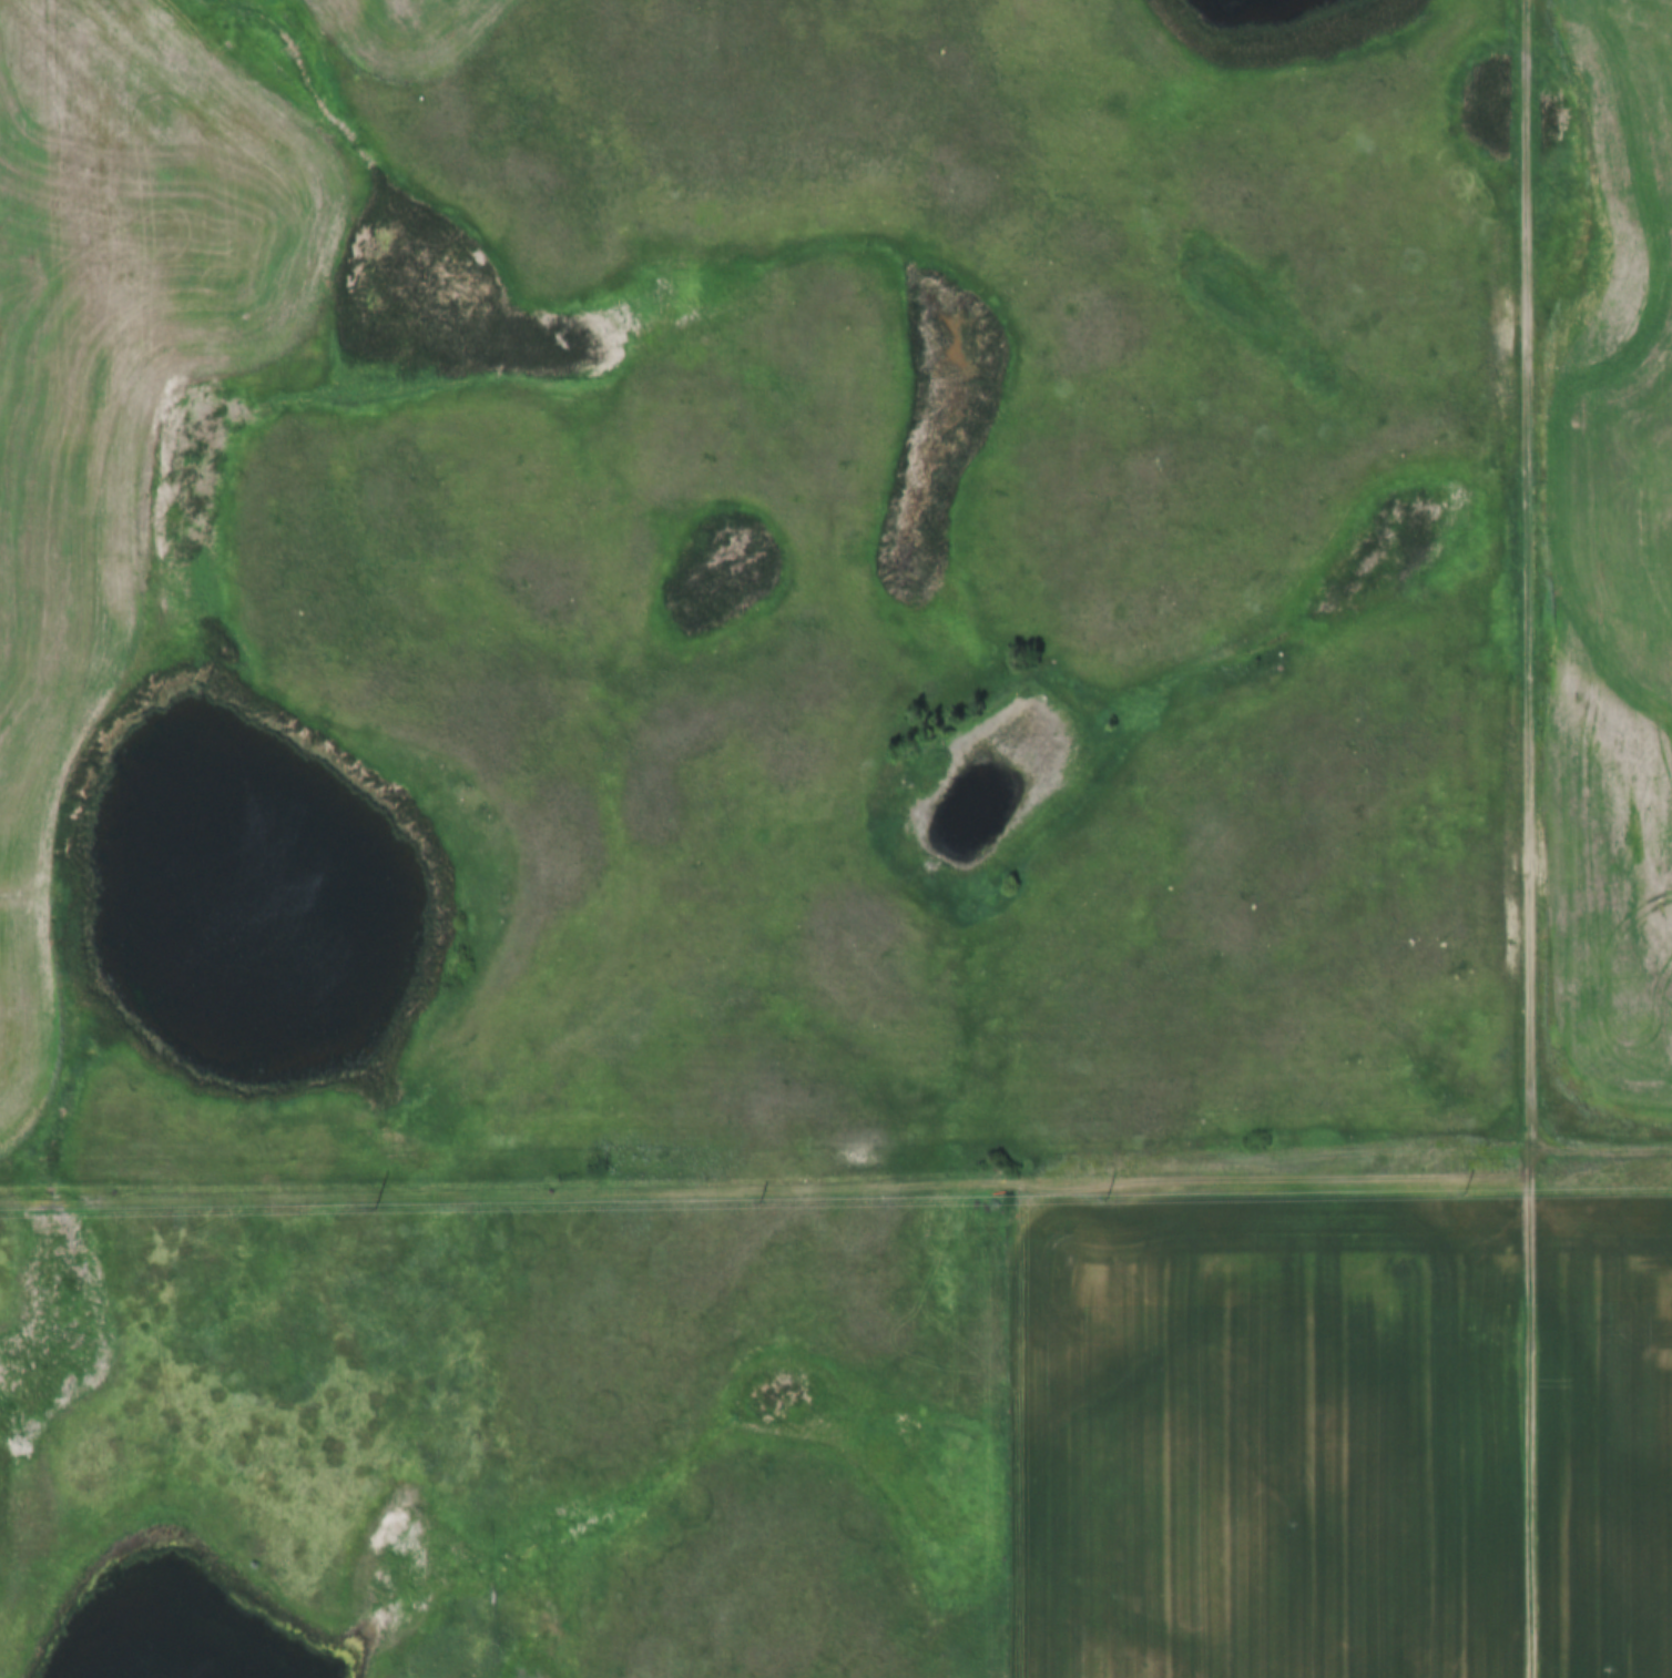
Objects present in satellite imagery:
road: (1530, 566)
road: (1607, 1146)
road: (1529, 1400)

